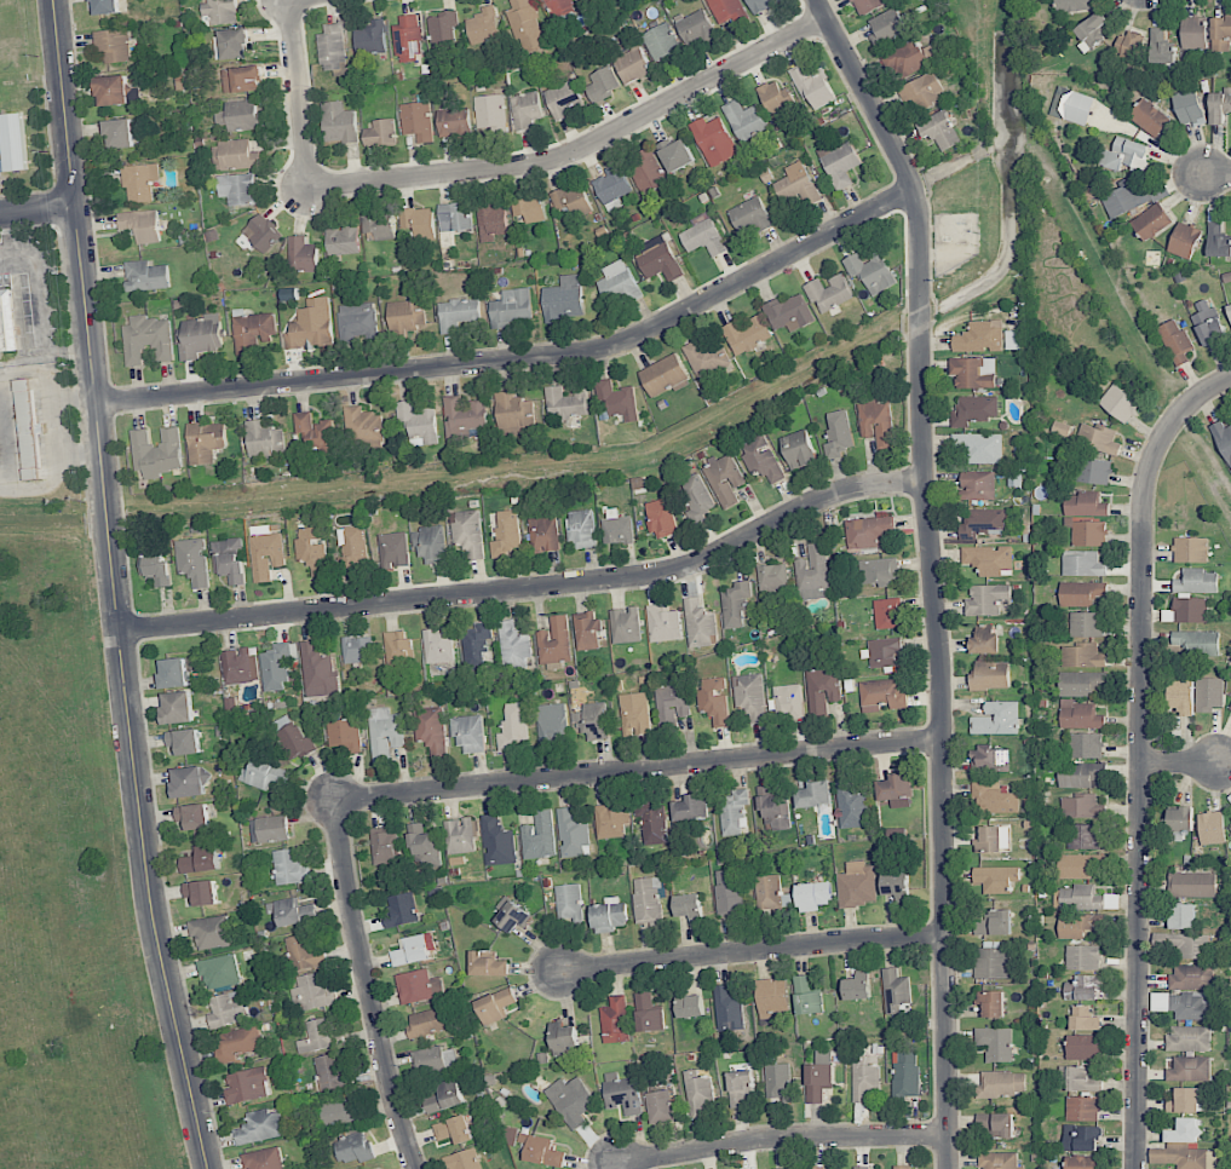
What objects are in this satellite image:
building: (582, 0)
building: (761, 5)
building: (867, 5)
building: (1072, 5)
building: (105, 6)
building: (727, 11)
building: (220, 12)
building: (483, 25)
building: (695, 27)
building: (887, 27)
building: (444, 28)
building: (525, 28)
building: (1091, 29)
building: (1193, 33)
building: (1220, 33)
building: (370, 38)
building: (408, 39)
building: (661, 41)
building: (234, 44)
building: (113, 45)
building: (1132, 45)
building: (333, 47)
building: (1161, 47)
building: (905, 58)
building: (632, 64)
building: (241, 79)
building: (602, 83)
building: (813, 86)
building: (113, 90)
building: (922, 91)
road: (300, 93)
building: (564, 98)
building: (776, 99)
building: (1071, 105)
building: (1220, 105)
building: (1189, 106)
building: (525, 110)
building: (490, 113)
building: (238, 115)
building: (1149, 117)
building: (416, 120)
building: (746, 120)
building: (340, 122)
building: (454, 123)
building: (939, 129)
building: (119, 133)
building: (380, 133)
building: (713, 140)
building: (13, 142)
road: (583, 148)
building: (675, 154)
building: (1122, 154)
building: (237, 155)
building: (840, 165)
building: (648, 172)
road: (1221, 174)
building: (139, 182)
building: (798, 184)
building: (611, 188)
building: (237, 189)
building: (1129, 198)
building: (573, 200)
road: (38, 208)
building: (529, 208)
building: (750, 215)
building: (455, 217)
building: (418, 220)
building: (490, 220)
building: (1152, 221)
building: (142, 225)
building: (379, 226)
building: (261, 232)
building: (703, 237)
building: (343, 240)
building: (1184, 240)
building: (301, 254)
building: (657, 259)
building: (870, 271)
building: (145, 276)
building: (617, 283)
building: (829, 292)
building: (563, 299)
road: (40, 307)
building: (510, 307)
building: (1229, 310)
building: (789, 312)
building: (458, 313)
building: (405, 316)
building: (6, 322)
building: (357, 322)
building: (1208, 323)
building: (311, 326)
building: (251, 330)
building: (747, 334)
building: (201, 336)
building: (980, 338)
building: (148, 339)
building: (1175, 340)
road: (522, 358)
building: (707, 358)
building: (973, 373)
building: (663, 375)
building: (616, 399)
building: (565, 403)
building: (1118, 403)
building: (974, 410)
building: (514, 413)
building: (464, 417)
building: (876, 422)
building: (418, 424)
building: (363, 425)
building: (28, 430)
building: (316, 432)
building: (838, 433)
building: (265, 438)
building: (1098, 438)
building: (1223, 438)
building: (206, 442)
building: (979, 447)
building: (799, 449)
building: (157, 453)
road: (1206, 457)
building: (761, 459)
building: (0, 462)
building: (1094, 471)
building: (725, 479)
building: (977, 485)
building: (696, 495)
building: (1086, 505)
building: (661, 518)
building: (982, 523)
building: (617, 528)
building: (582, 529)
building: (867, 531)
building: (467, 532)
building: (1089, 532)
building: (507, 534)
building: (545, 534)
building: (430, 543)
building: (313, 549)
building: (352, 549)
building: (395, 549)
building: (1191, 549)
building: (266, 552)
building: (230, 559)
building: (988, 559)
building: (192, 560)
building: (1083, 564)
building: (155, 566)
building: (879, 571)
building: (812, 572)
road: (932, 572)
building: (772, 577)
building: (1196, 581)
road: (114, 587)
road: (531, 588)
building: (1081, 593)
building: (986, 599)
building: (735, 604)
building: (1190, 610)
building: (887, 614)
building: (660, 623)
building: (698, 623)
building: (625, 624)
building: (1086, 624)
building: (586, 632)
building: (984, 640)
building: (554, 641)
building: (1195, 643)
building: (476, 644)
building: (438, 645)
building: (513, 647)
building: (358, 649)
building: (398, 650)
building: (884, 652)
building: (1082, 656)
building: (240, 666)
building: (276, 667)
building: (318, 670)
building: (173, 673)
building: (990, 675)
building: (1081, 684)
building: (822, 689)
building: (1209, 693)
building: (881, 695)
building: (750, 696)
building: (1183, 696)
building: (714, 699)
building: (788, 702)
building: (672, 704)
building: (177, 707)
building: (1230, 708)
building: (634, 713)
building: (1080, 715)
building: (997, 719)
building: (592, 720)
building: (552, 722)
building: (513, 726)
building: (430, 729)
building: (384, 733)
building: (468, 733)
building: (344, 735)
building: (184, 741)
building: (295, 742)
building: (1085, 745)
road: (1141, 755)
building: (990, 759)
road: (1183, 764)
road: (637, 768)
building: (264, 774)
building: (1080, 774)
building: (188, 782)
building: (813, 795)
building: (994, 797)
building: (852, 805)
building: (1081, 806)
building: (773, 807)
building: (691, 808)
building: (734, 812)
building: (191, 817)
building: (1180, 819)
building: (610, 822)
building: (654, 823)
building: (1230, 827)
building: (1212, 828)
building: (269, 829)
building: (571, 834)
building: (460, 835)
building: (539, 836)
building: (1082, 836)
building: (993, 840)
building: (496, 841)
building: (425, 845)
building: (385, 846)
building: (201, 859)
building: (1078, 865)
building: (289, 868)
building: (995, 879)
building: (857, 885)
building: (896, 885)
building: (1192, 885)
building: (729, 892)
building: (200, 893)
building: (771, 893)
building: (812, 896)
building: (1076, 898)
building: (569, 902)
building: (648, 902)
building: (1111, 902)
building: (689, 906)
building: (402, 910)
building: (292, 911)
building: (510, 915)
building: (1183, 916)
building: (608, 917)
building: (994, 922)
building: (1077, 925)
building: (211, 932)
building: (1184, 944)
building: (410, 950)
road: (754, 950)
building: (304, 952)
building: (1082, 957)
building: (991, 962)
building: (487, 963)
building: (219, 971)
building: (1192, 977)
building: (418, 986)
building: (857, 986)
road: (364, 987)
building: (1083, 987)
building: (313, 991)
building: (896, 991)
building: (806, 996)
building: (771, 997)
building: (991, 1003)
building: (495, 1004)
building: (690, 1006)
building: (1191, 1006)
building: (228, 1008)
building: (727, 1008)
building: (648, 1013)
building: (1085, 1019)
building: (615, 1020)
building: (425, 1023)
building: (320, 1035)
building: (563, 1037)
building: (1189, 1038)
building: (237, 1042)
building: (995, 1043)
building: (1085, 1047)
building: (433, 1059)
building: (1190, 1067)
building: (330, 1072)
building: (905, 1075)
building: (864, 1077)
building: (1076, 1078)
building: (778, 1081)
building: (818, 1081)
building: (1002, 1084)
building: (246, 1085)
building: (740, 1087)
building: (697, 1092)
building: (622, 1093)
building: (442, 1098)
building: (1184, 1100)
building: (571, 1101)
building: (658, 1106)
building: (1082, 1108)
building: (339, 1112)
building: (995, 1125)
building: (260, 1127)
building: (453, 1130)
building: (1184, 1130)
road: (784, 1136)
building: (1081, 1138)
building: (353, 1147)
building: (541, 1150)
building: (1185, 1157)
building: (263, 1159)
building: (464, 1159)
building: (999, 1161)
building: (1082, 1163)
building: (902, 1167)
building: (787, 1168)
building: (816, 1168)
building: (862, 1168)

